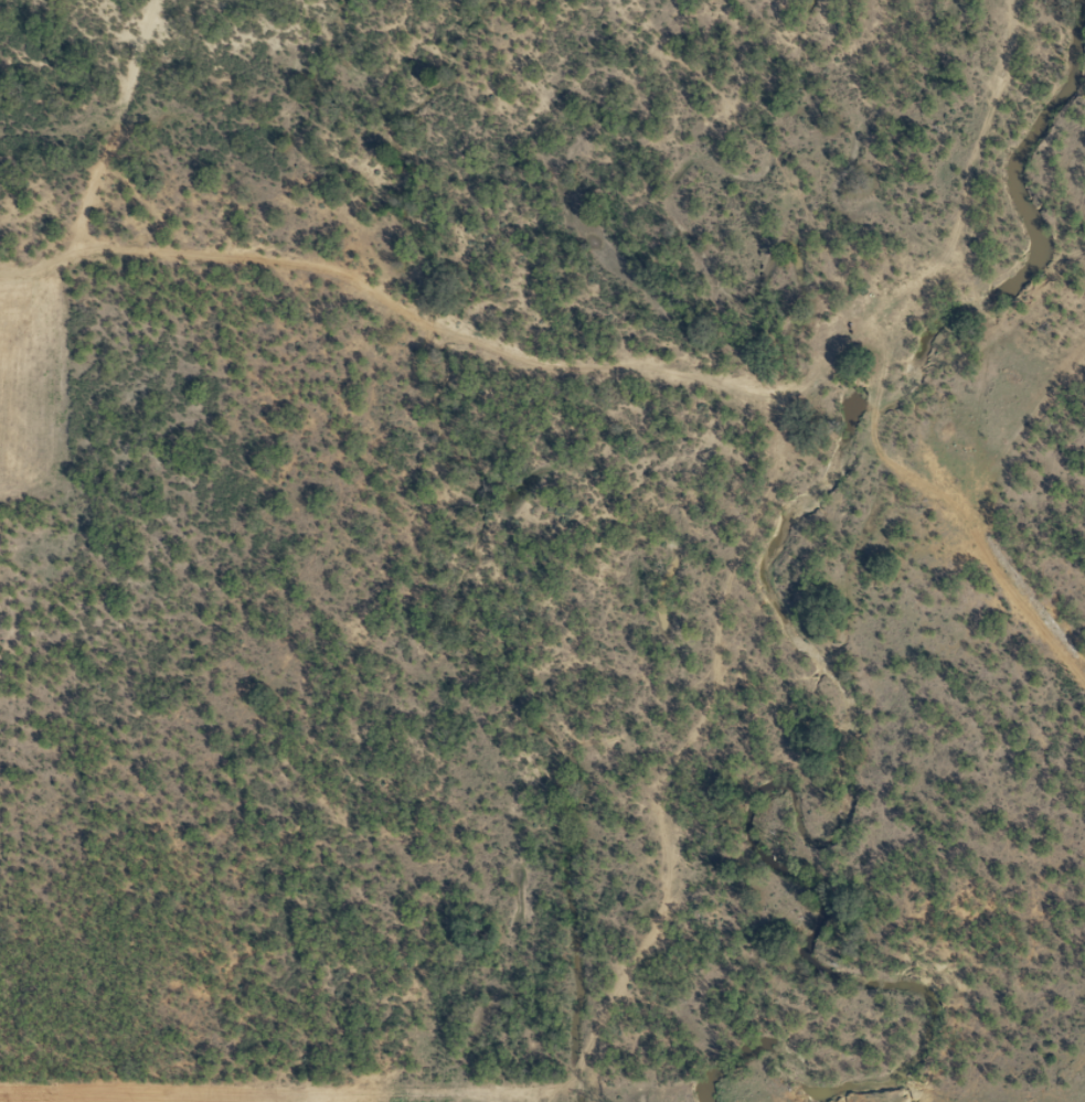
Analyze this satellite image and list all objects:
road: (962, 238)
road: (583, 427)

